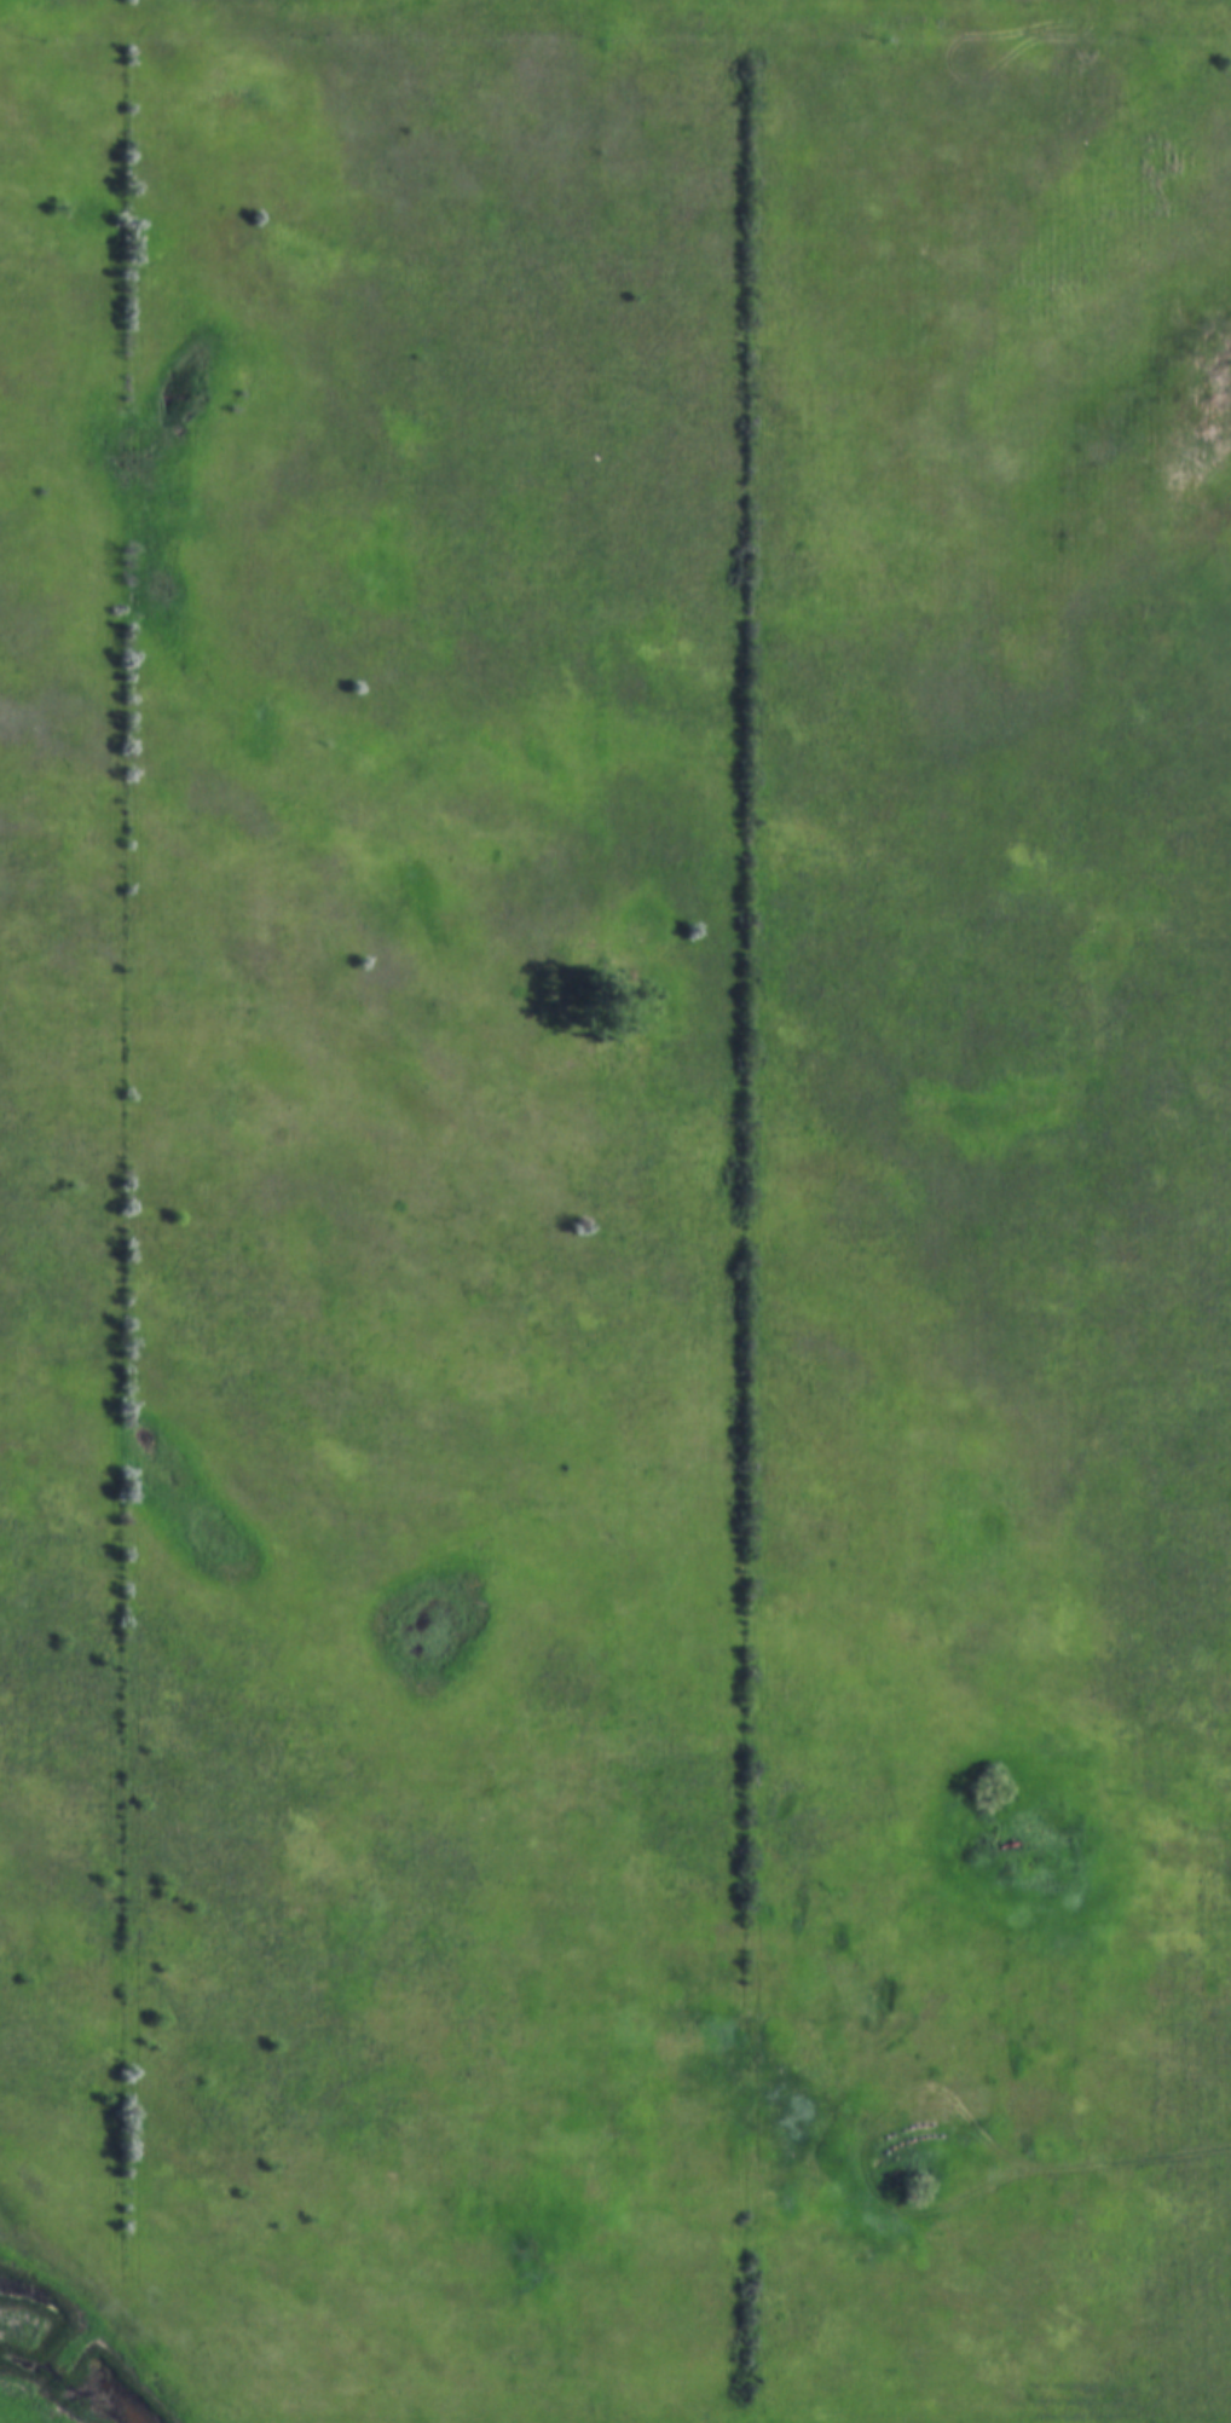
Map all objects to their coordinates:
road: (1157, 2158)
road: (947, 2238)

